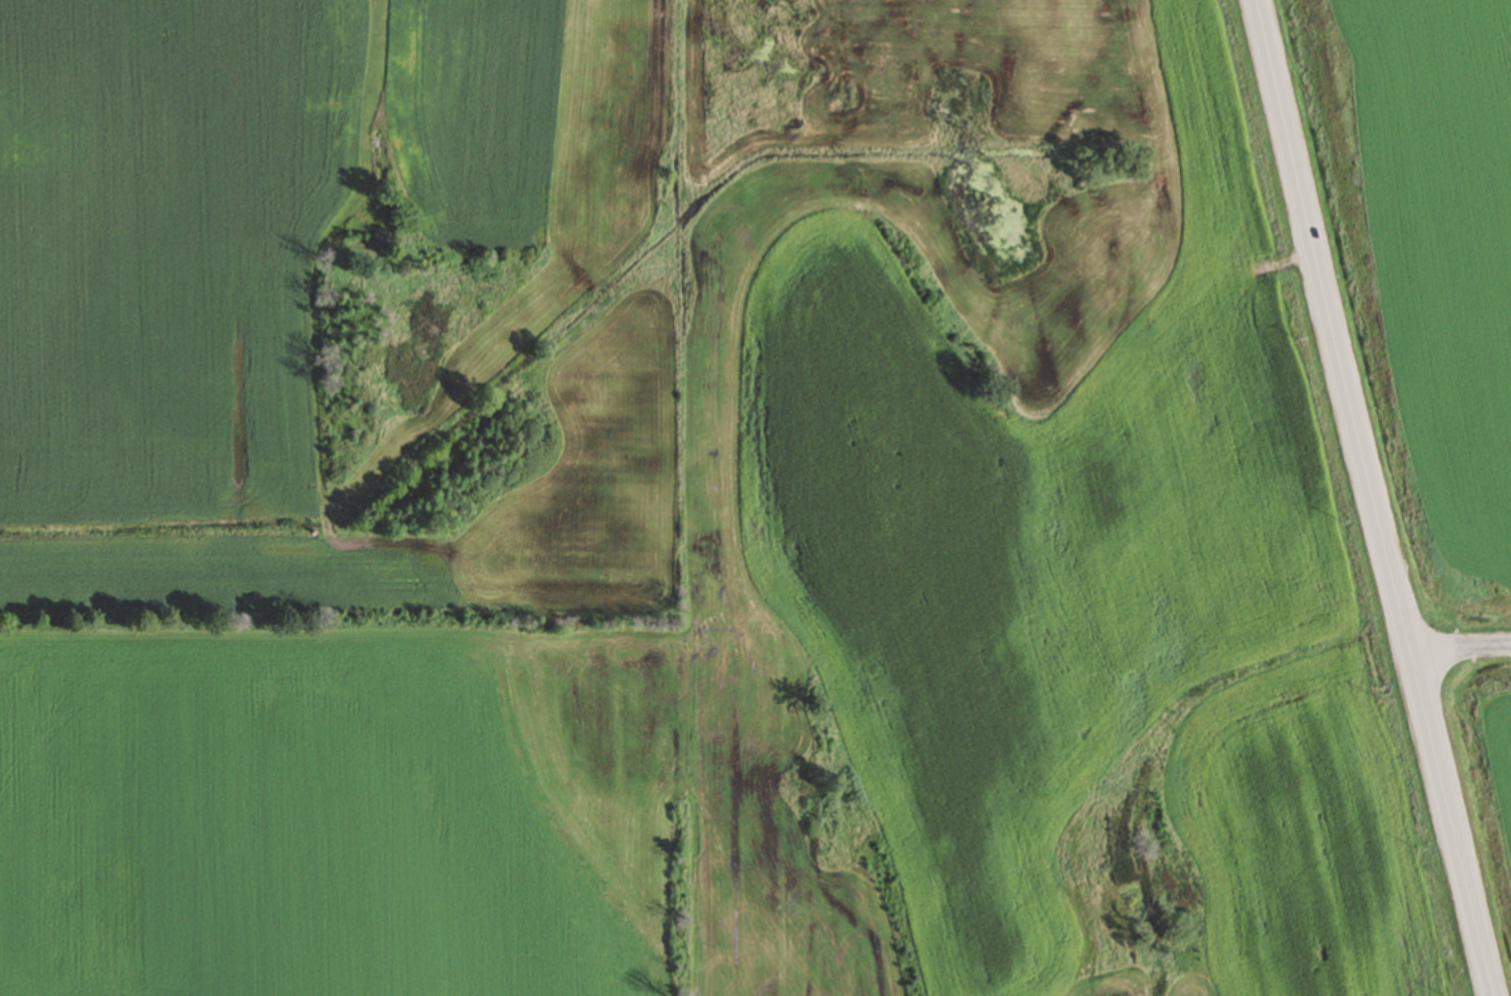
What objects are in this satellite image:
road: (1373, 498)
road: (1460, 643)

